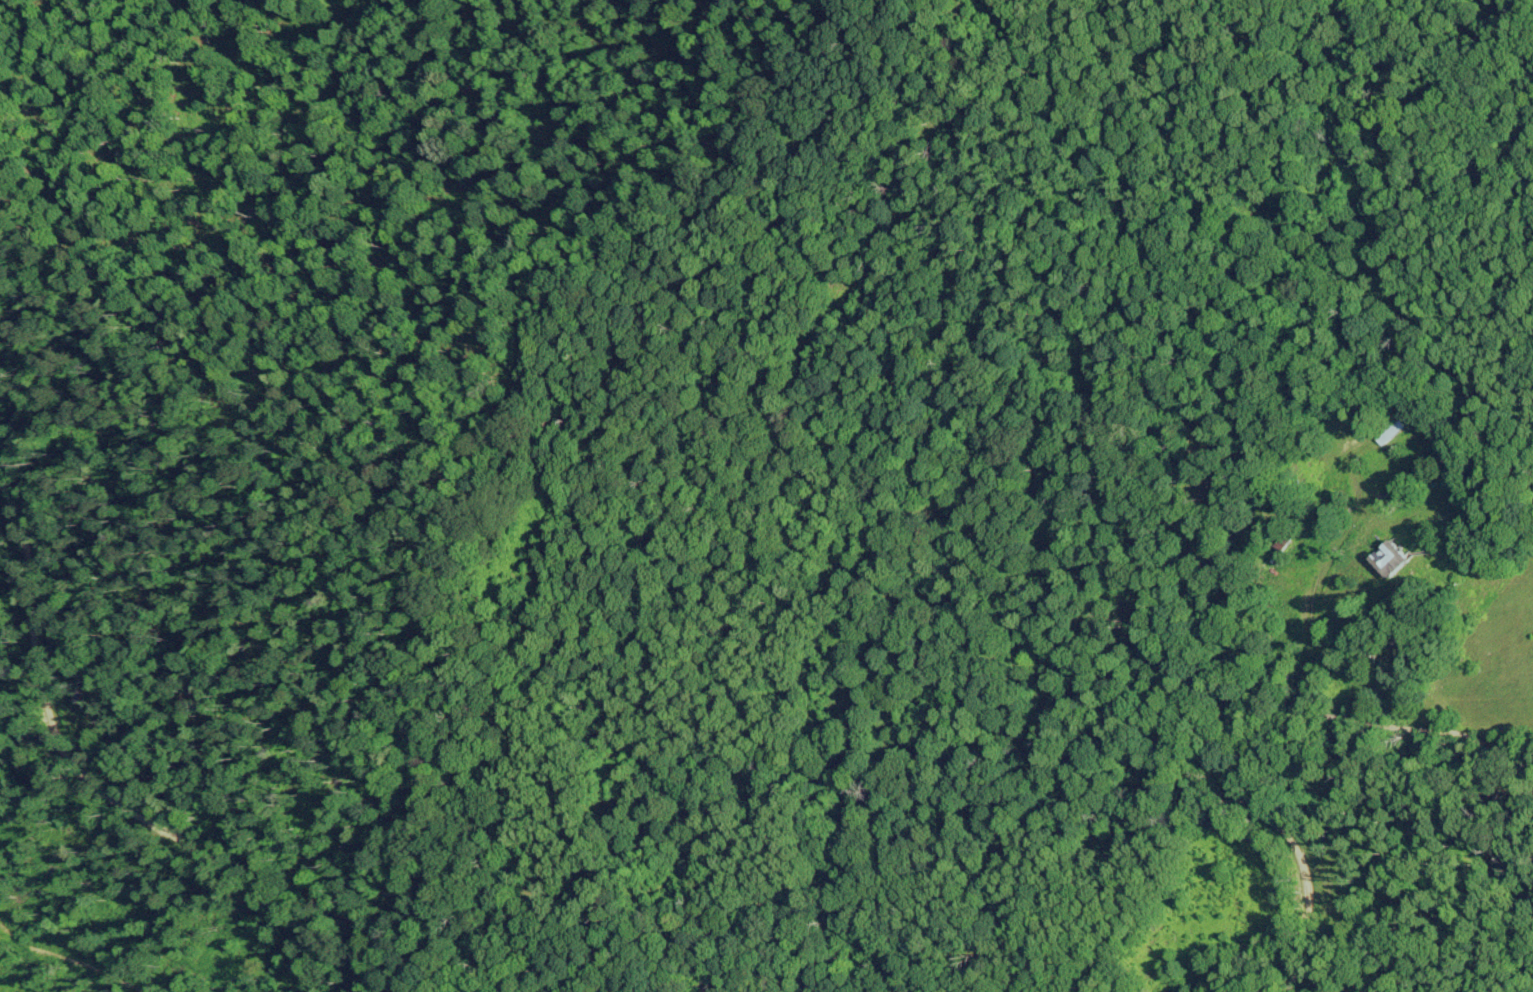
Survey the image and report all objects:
road: (1223, 766)
road: (123, 819)

